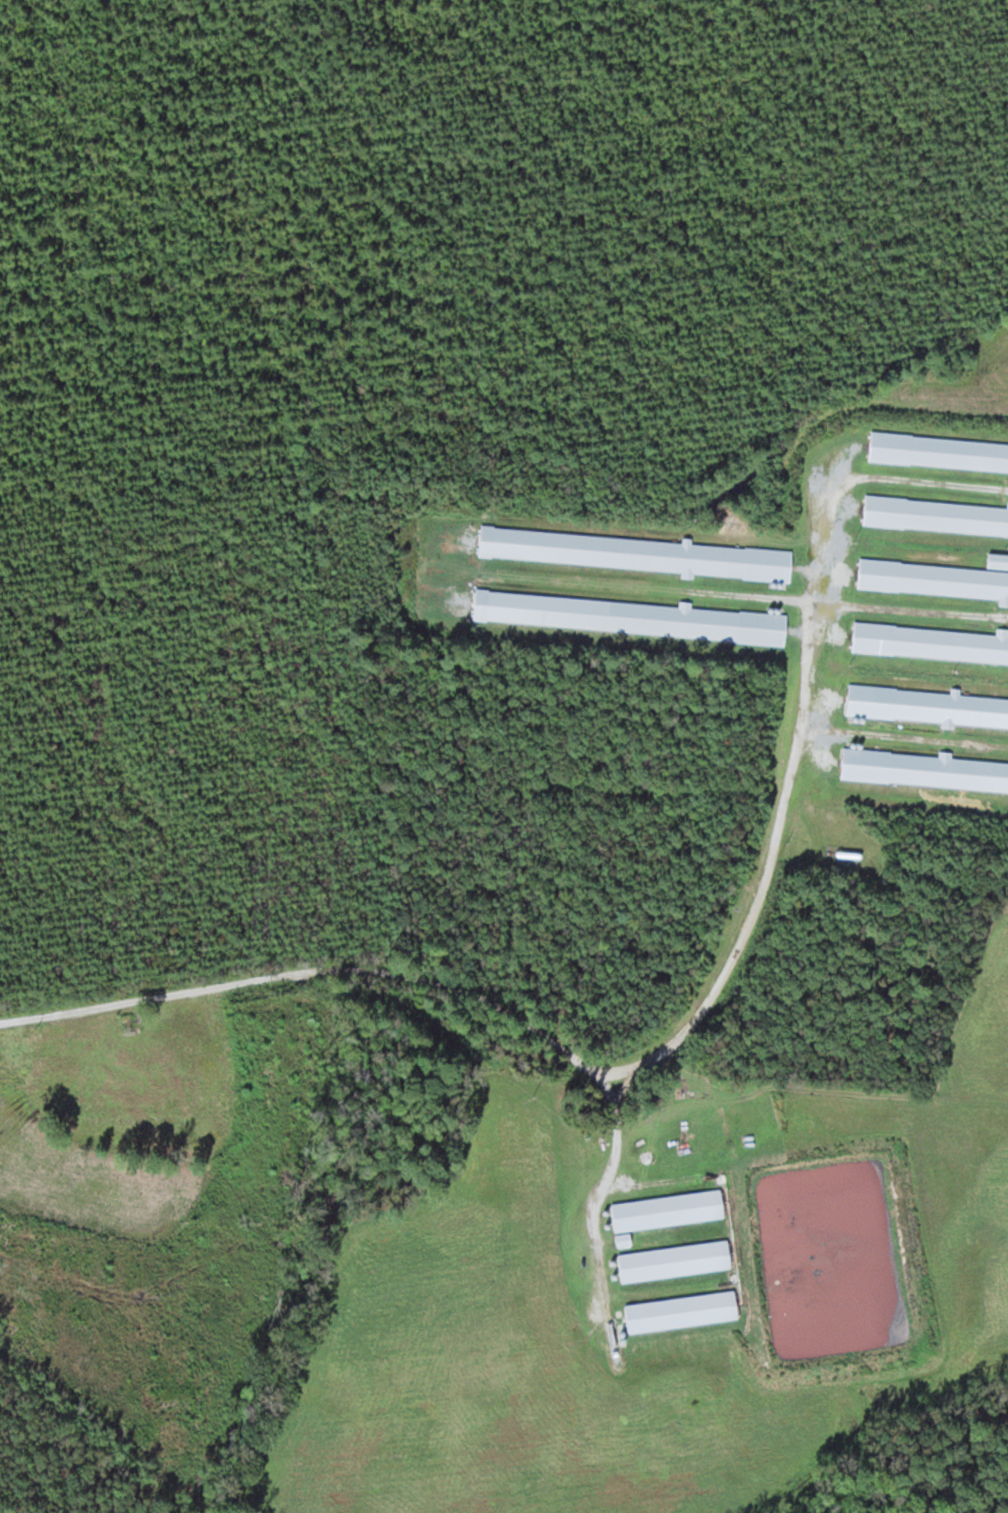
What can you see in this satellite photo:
building: (939, 451)
building: (936, 515)
building: (640, 552)
building: (938, 576)
building: (629, 615)
building: (931, 642)
building: (927, 705)
building: (923, 769)
building: (130, 1021)
building: (669, 1209)
building: (675, 1260)
building: (682, 1310)

